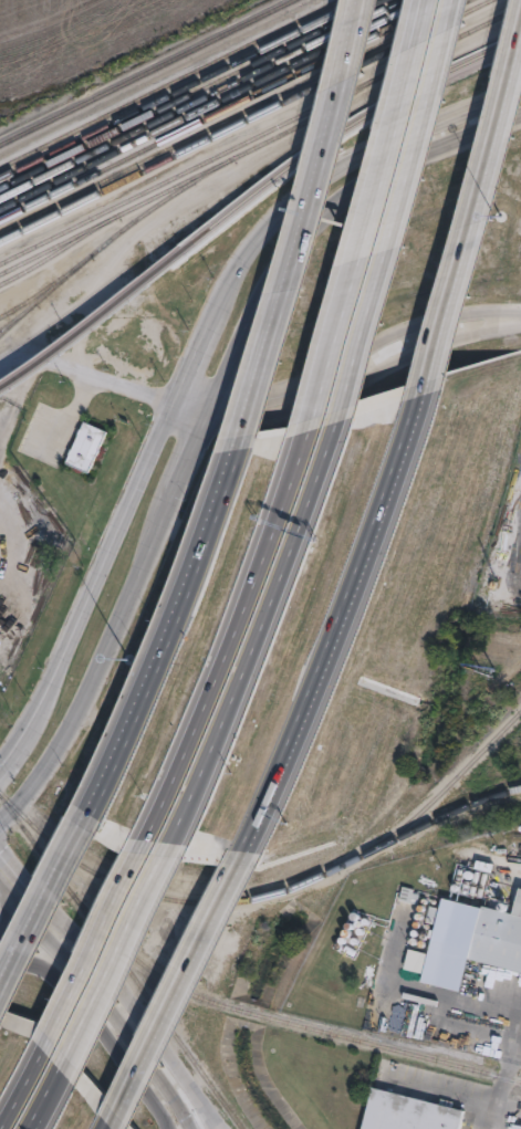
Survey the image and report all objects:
railway: (146, 72)
railway: (169, 82)
railway: (180, 88)
railway: (189, 94)
railway: (199, 98)
railway: (393, 98)
railway: (225, 108)
railway: (240, 116)
railway: (184, 117)
railway: (246, 150)
railway: (164, 169)
railway: (132, 196)
road: (399, 211)
road: (304, 213)
railway: (115, 215)
road: (369, 216)
road: (475, 243)
railway: (58, 249)
railway: (139, 289)
railway: (38, 290)
railway: (6, 324)
road: (190, 358)
road: (352, 373)
road: (114, 381)
road: (208, 416)
road: (344, 619)
road: (161, 627)
road: (253, 638)
building: (164, 639)
road: (229, 642)
railway: (435, 795)
road: (19, 897)
railway: (253, 897)
road: (39, 903)
road: (7, 917)
road: (40, 932)
building: (477, 935)
road: (100, 944)
road: (125, 960)
railway: (122, 962)
road: (184, 976)
road: (113, 986)
railway: (278, 1021)
road: (95, 1026)
road: (137, 1050)
road: (503, 1076)
road: (25, 1080)
road: (53, 1095)
building: (413, 1114)
road: (108, 1126)

